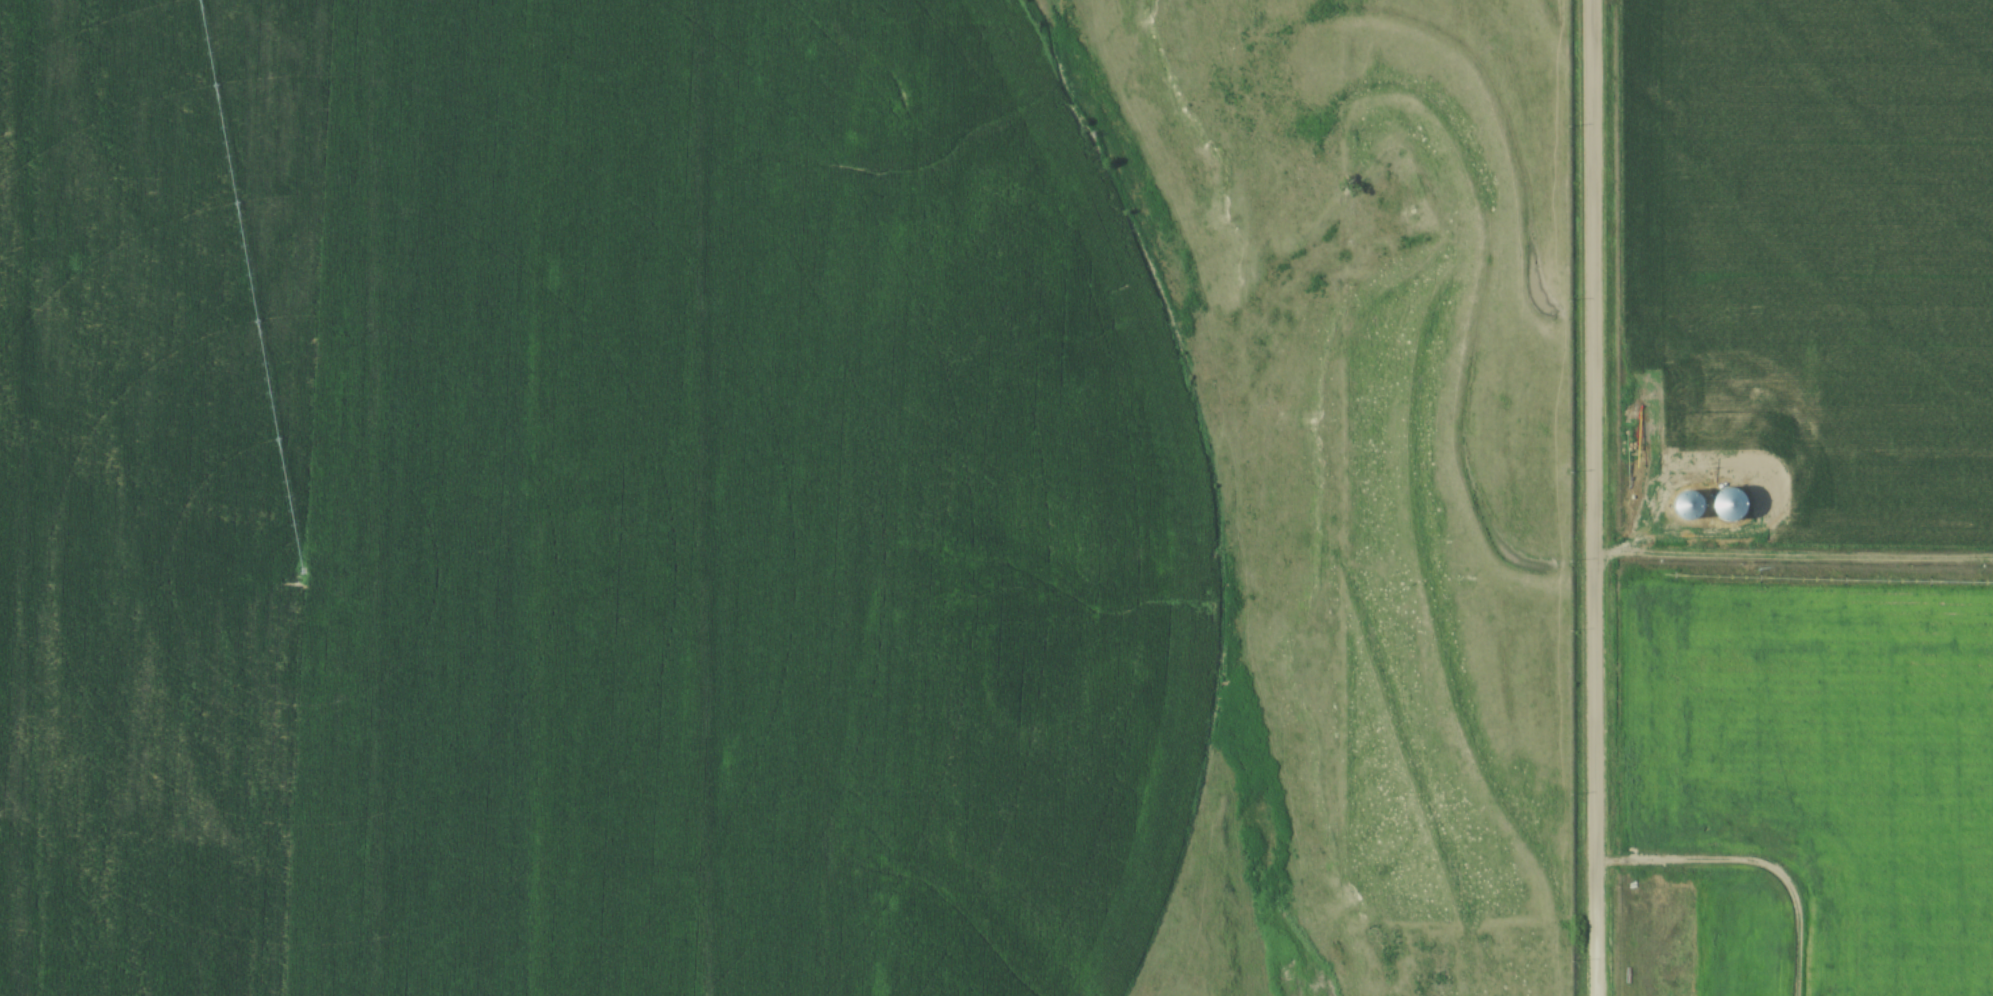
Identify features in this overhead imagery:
road: (1588, 498)
building: (1689, 506)
road: (1791, 560)
road: (1744, 865)

